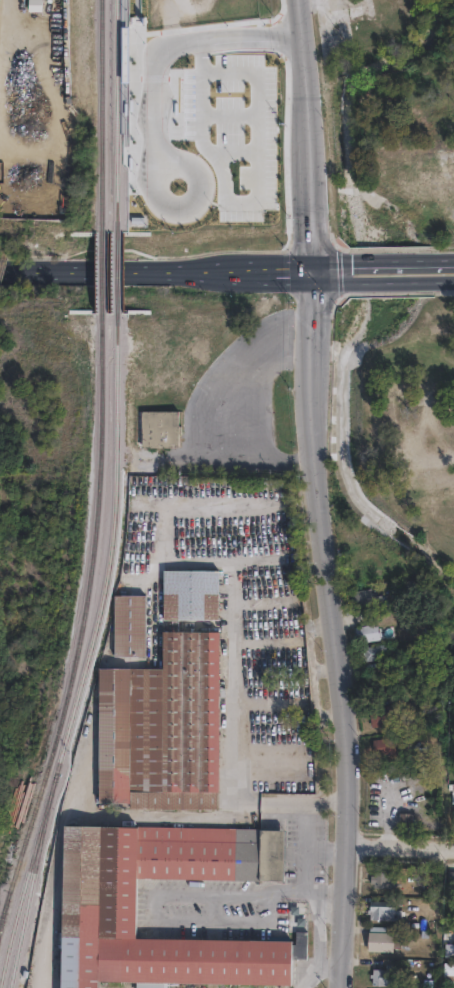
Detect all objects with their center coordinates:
building: (35, 5)
road: (169, 23)
road: (275, 26)
road: (164, 46)
parking lot: (214, 84)
railway: (102, 116)
railway: (114, 116)
road: (313, 128)
railway: (125, 133)
building: (223, 198)
road: (153, 204)
road: (317, 233)
road: (395, 240)
road: (236, 244)
traffic signals: (315, 257)
road: (384, 257)
road: (281, 263)
road: (123, 266)
road: (315, 269)
railway: (115, 272)
railway: (101, 273)
road: (281, 275)
traffic signals: (315, 281)
road: (384, 281)
building: (392, 415)
park: (409, 426)
building: (434, 430)
building: (145, 431)
building: (400, 453)
railway: (109, 545)
building: (189, 597)
building: (358, 599)
railway: (87, 607)
building: (128, 627)
road: (236, 628)
road: (335, 634)
building: (361, 634)
building: (364, 654)
building: (379, 716)
building: (161, 729)
building: (382, 747)
building: (405, 819)
road: (400, 850)
railway: (26, 877)
building: (381, 879)
building: (449, 879)
railway: (30, 880)
road: (316, 888)
building: (99, 908)
road: (153, 910)
building: (384, 910)
railway: (5, 911)
railway: (5, 917)
building: (299, 926)
building: (383, 938)
building: (449, 950)
building: (384, 975)

